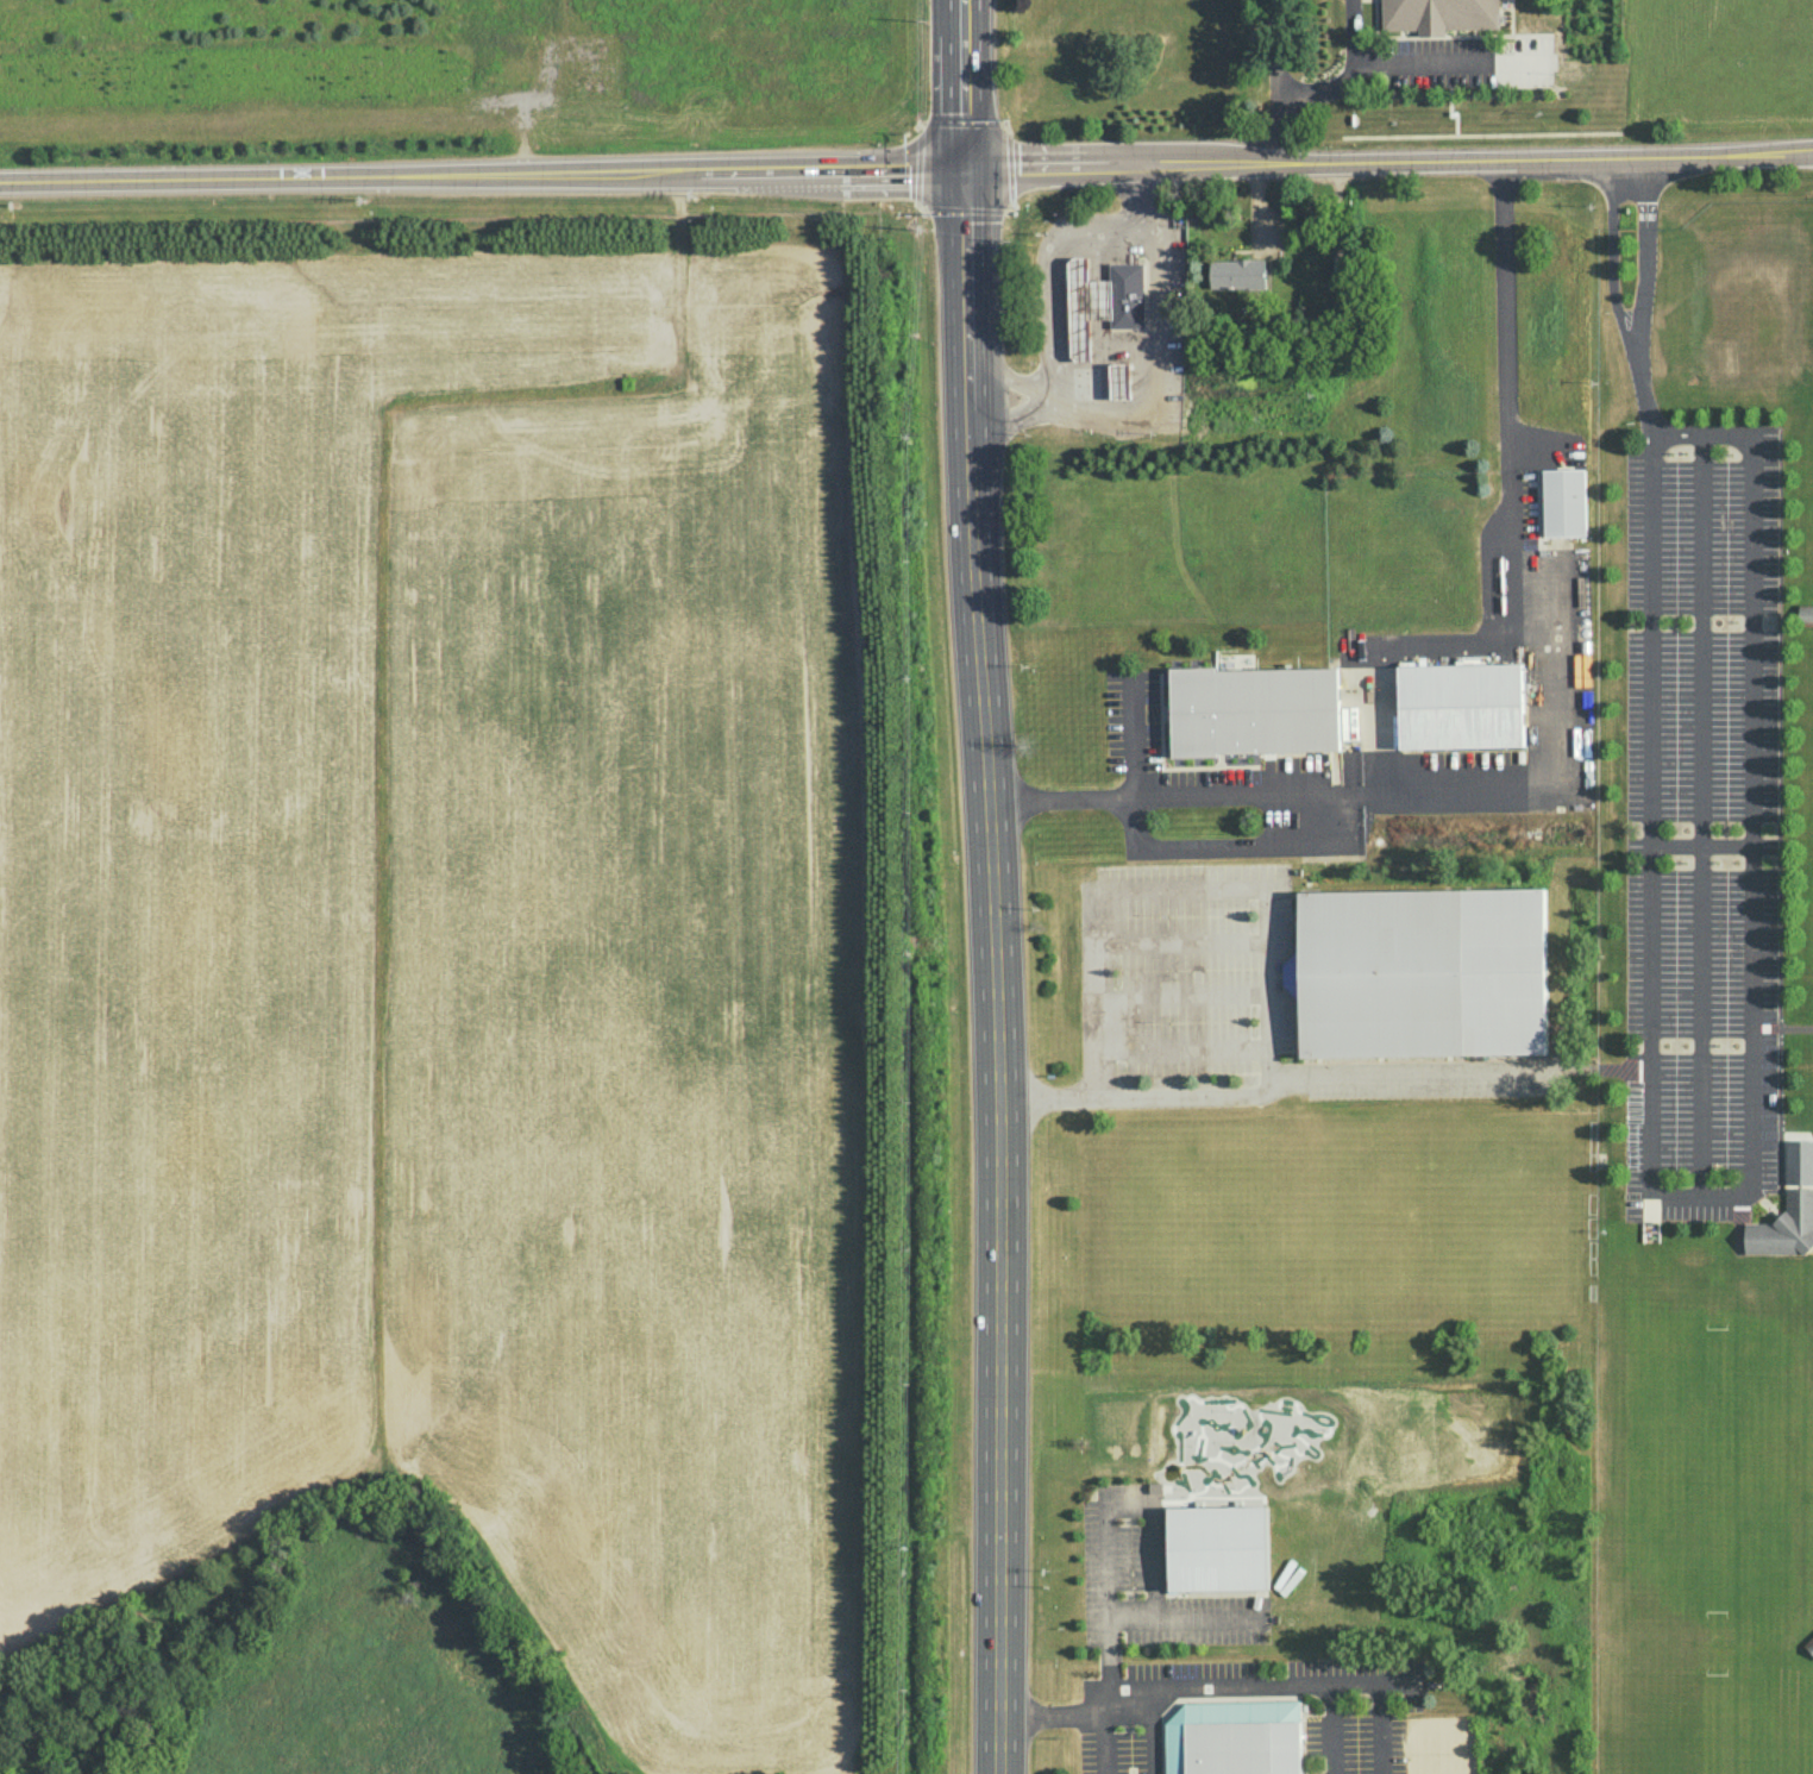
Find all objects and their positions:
building: (1439, 14)
road: (1374, 57)
road: (1281, 86)
road: (1479, 167)
traffic signals: (964, 174)
road: (1054, 174)
road: (482, 178)
road: (1146, 203)
road: (1648, 250)
road: (1612, 252)
road: (1047, 265)
building: (1236, 274)
building: (1128, 297)
building: (1086, 307)
road: (1154, 378)
building: (1121, 383)
road: (1642, 388)
road: (1042, 391)
building: (1563, 502)
road: (1752, 566)
building: (1806, 614)
building: (1461, 704)
building: (1253, 709)
road: (1552, 746)
building: (1247, 758)
road: (1702, 819)
parking lot: (1701, 822)
road: (1221, 846)
road: (991, 886)
road: (1244, 888)
building: (1419, 972)
road: (1783, 1028)
road: (1322, 1080)
building: (1788, 1208)
park: (1161, 1227)
park: (1448, 1227)
park: (1305, 1228)
road: (1556, 1469)
park: (1715, 1473)
park: (1392, 1499)
road: (1106, 1507)
building: (1230, 1547)
building: (1809, 1644)
road: (1168, 1685)
road: (1380, 1705)
park: (1713, 1724)
road: (1334, 1728)
road: (1149, 1731)
building: (1243, 1735)
road: (1522, 1739)
road: (1103, 1741)
park: (1454, 1745)
road: (1538, 1756)
road: (1507, 1760)

